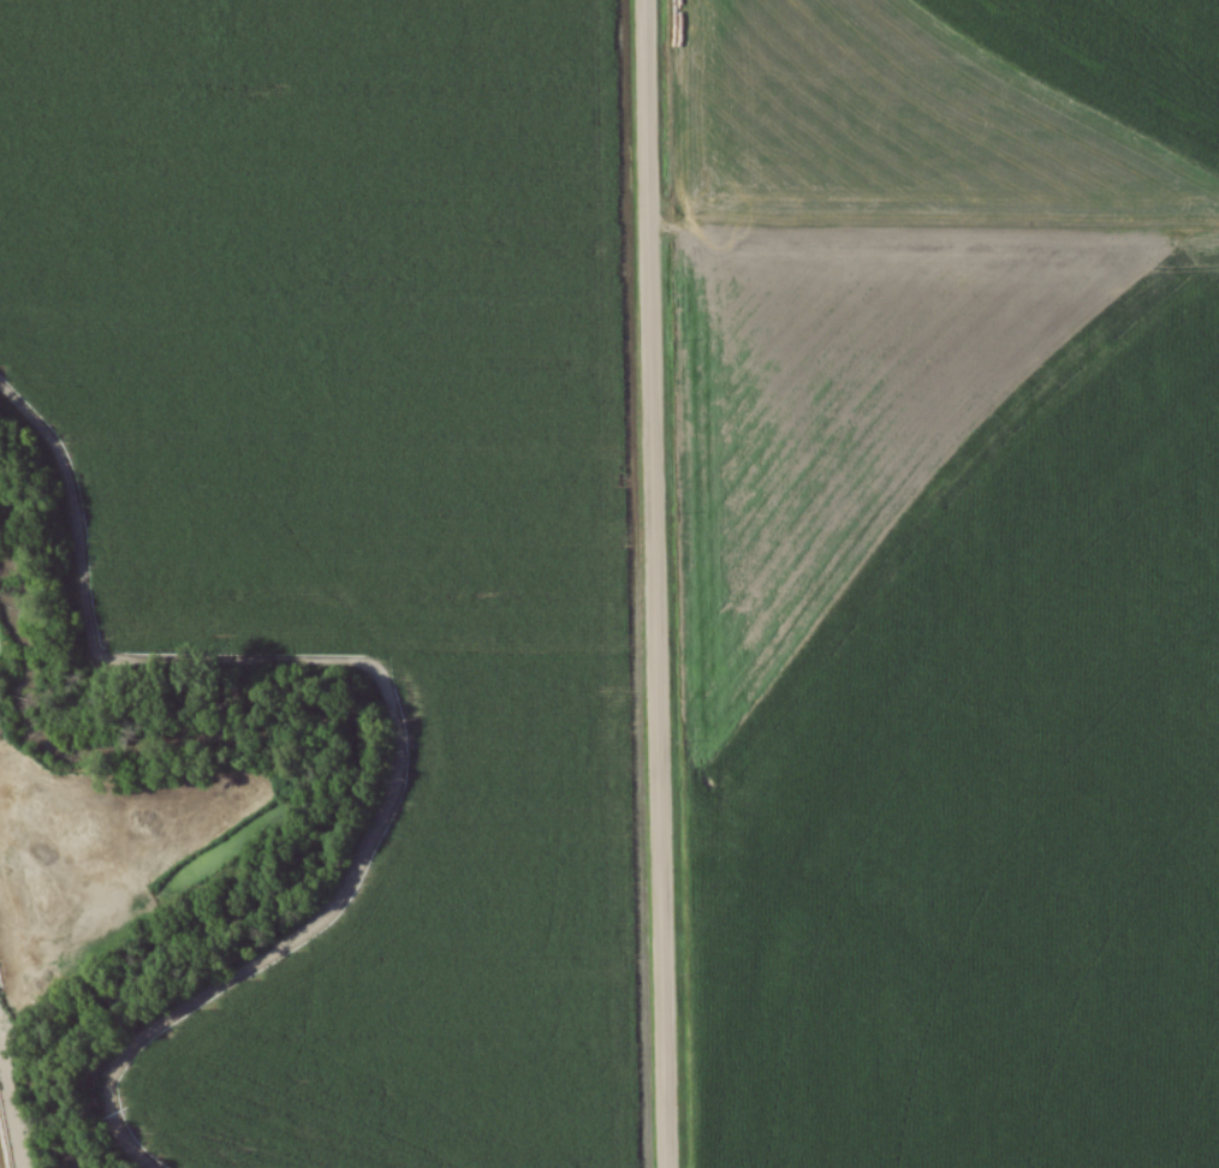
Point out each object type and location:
road: (649, 584)

